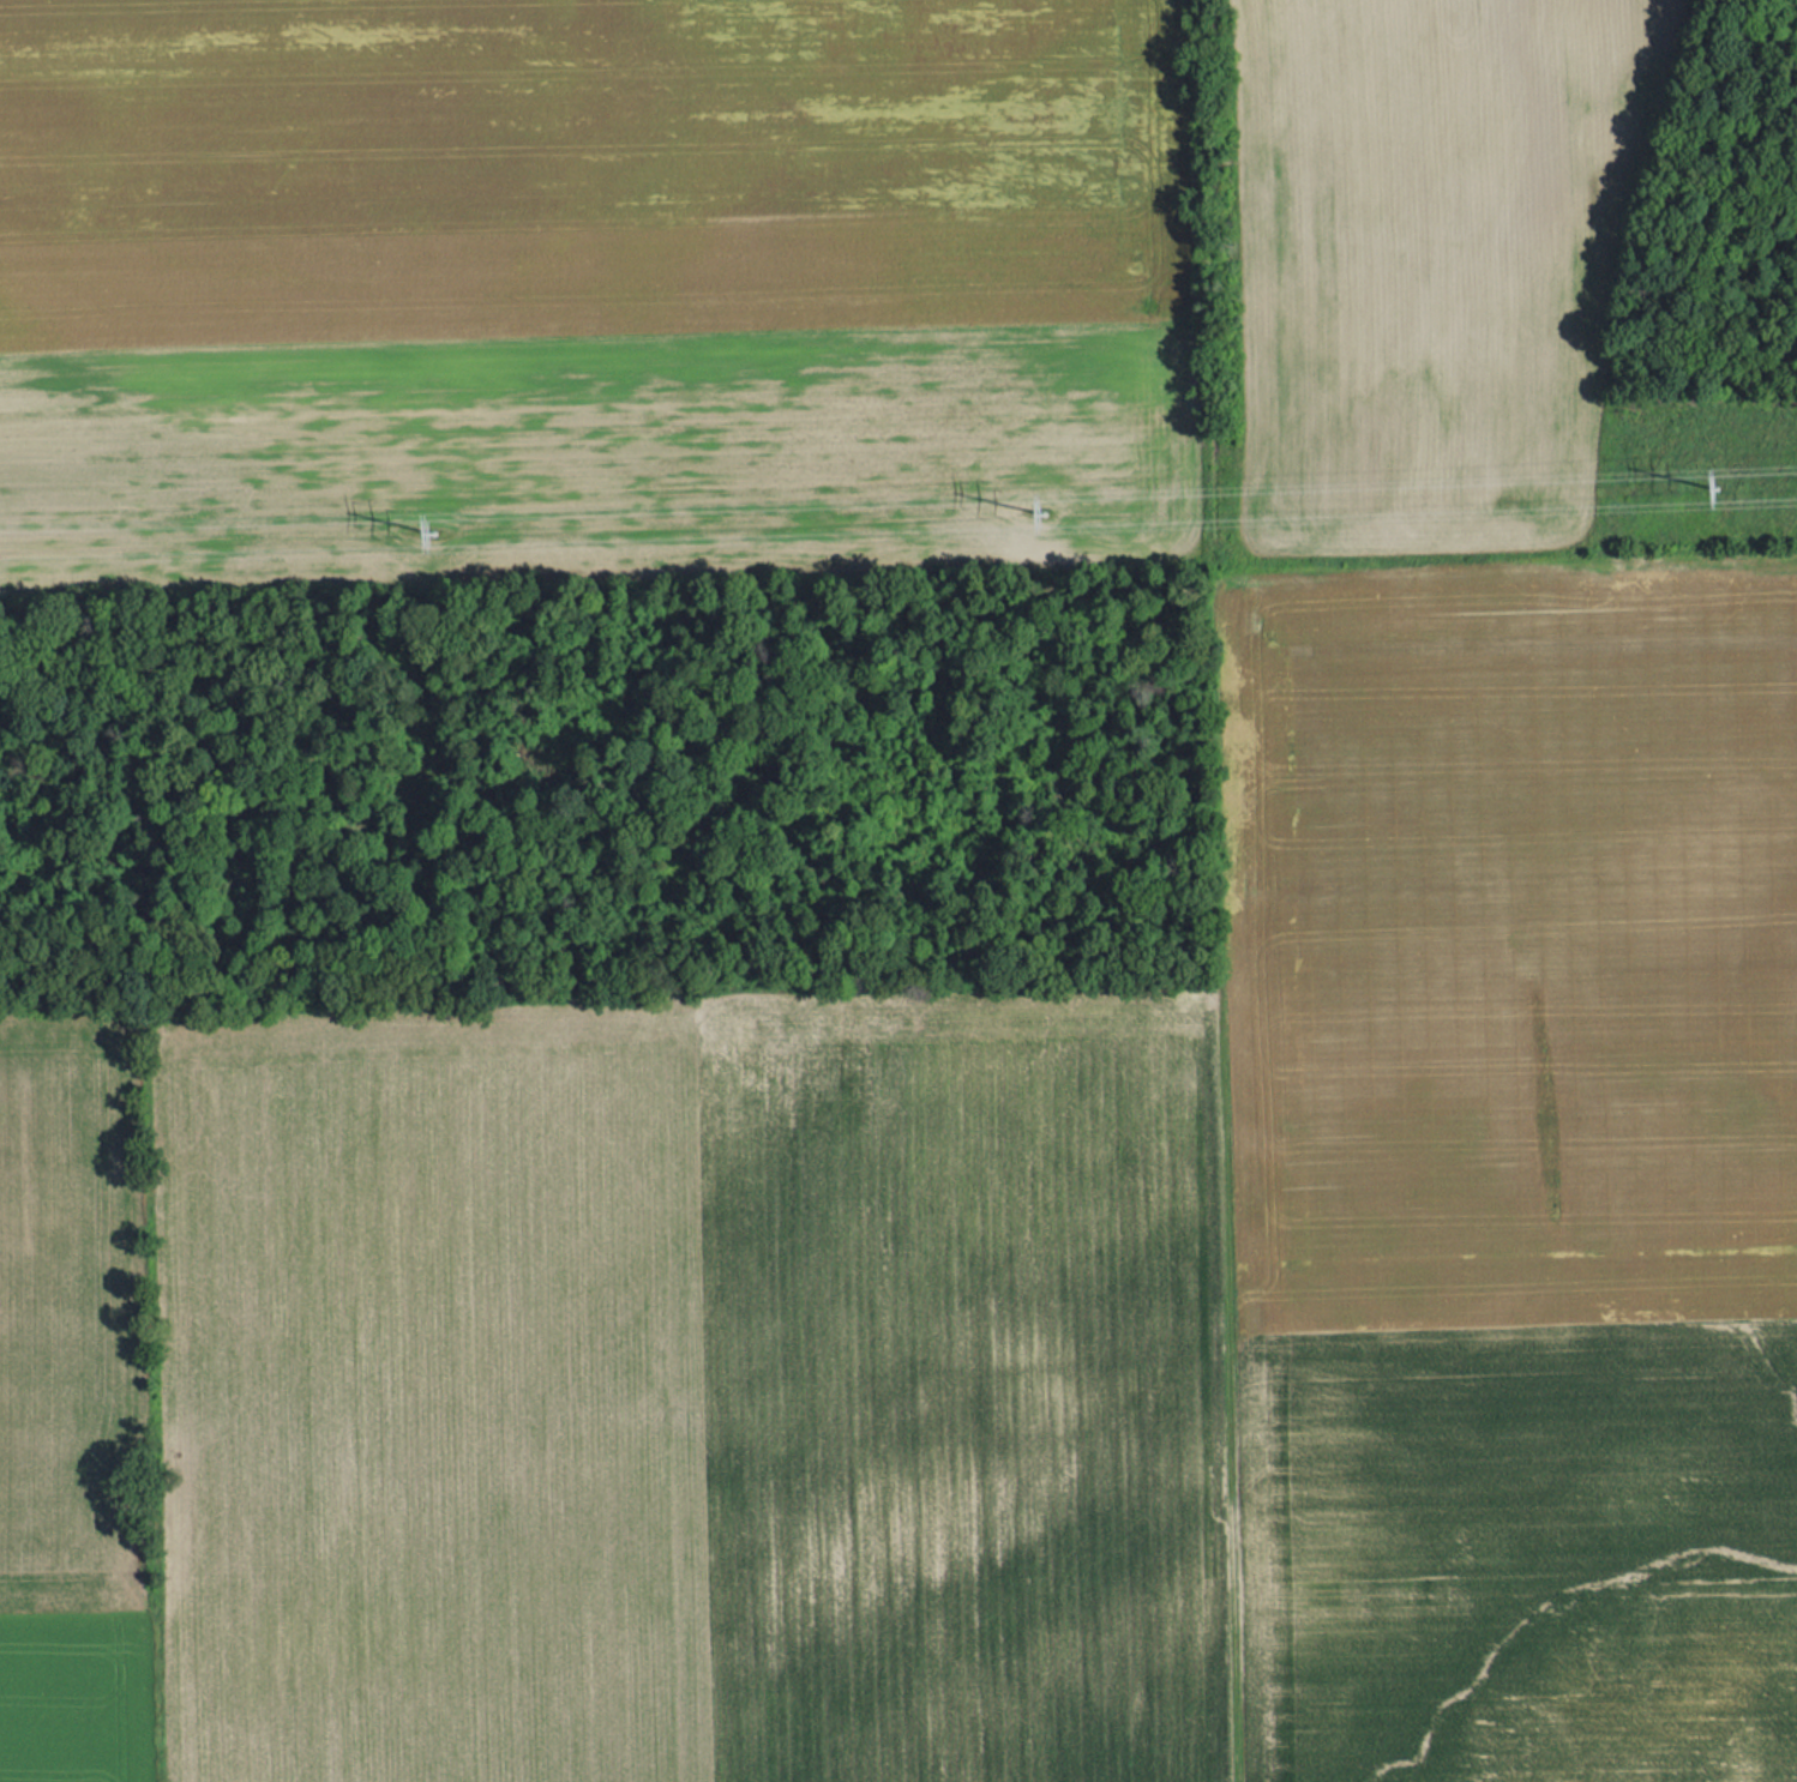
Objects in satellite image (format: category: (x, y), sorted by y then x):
power tower: (1715, 494)
power tower: (1048, 514)
power tower: (438, 535)

